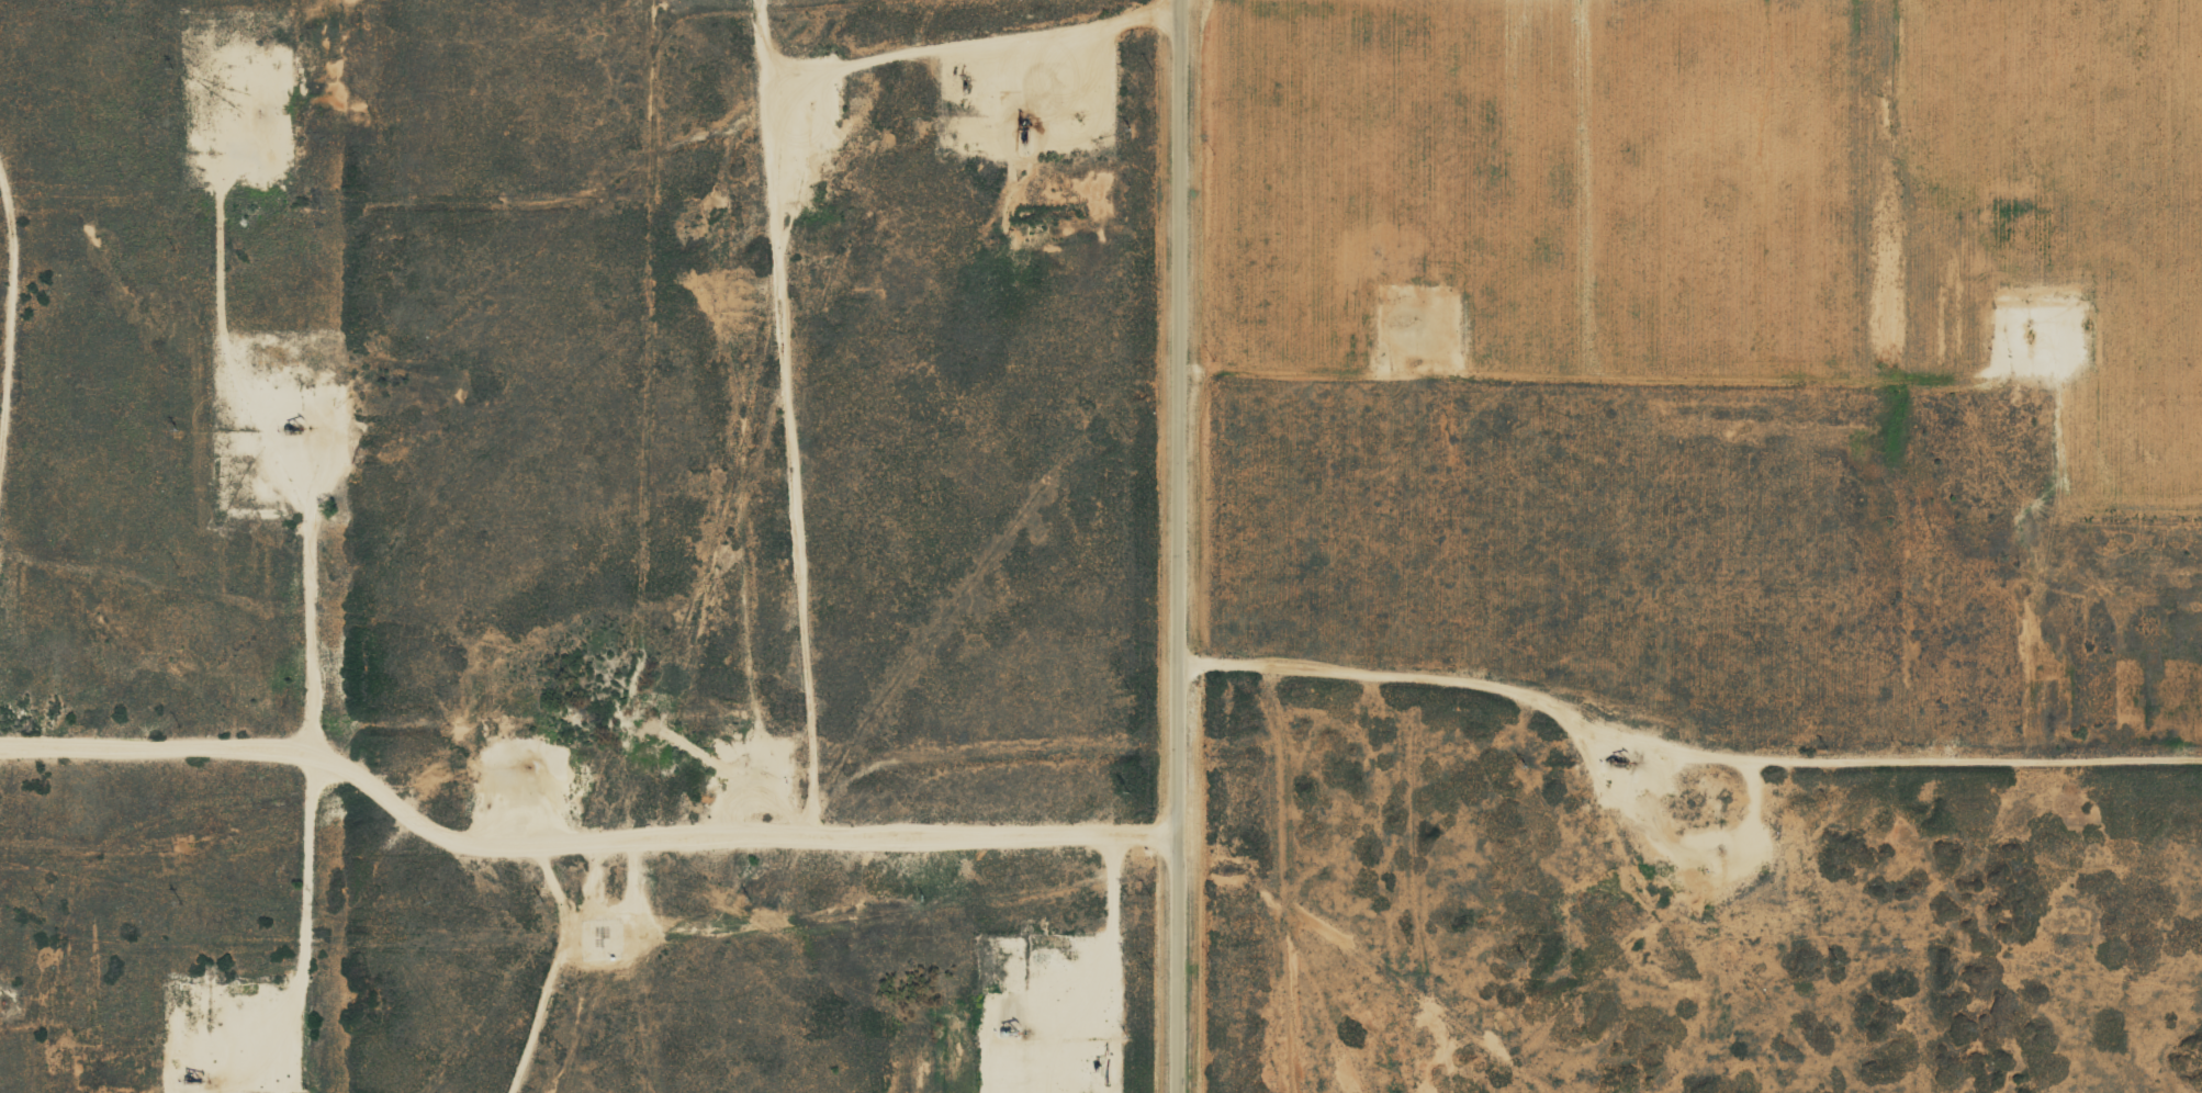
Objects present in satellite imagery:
petroleum well: (1022, 125)
road: (109, 166)
road: (730, 253)
petroleum well: (292, 428)
road: (1173, 546)
road: (1686, 698)
petroleum well: (1616, 754)
road: (577, 809)
road: (324, 931)
petroleum well: (190, 1075)

